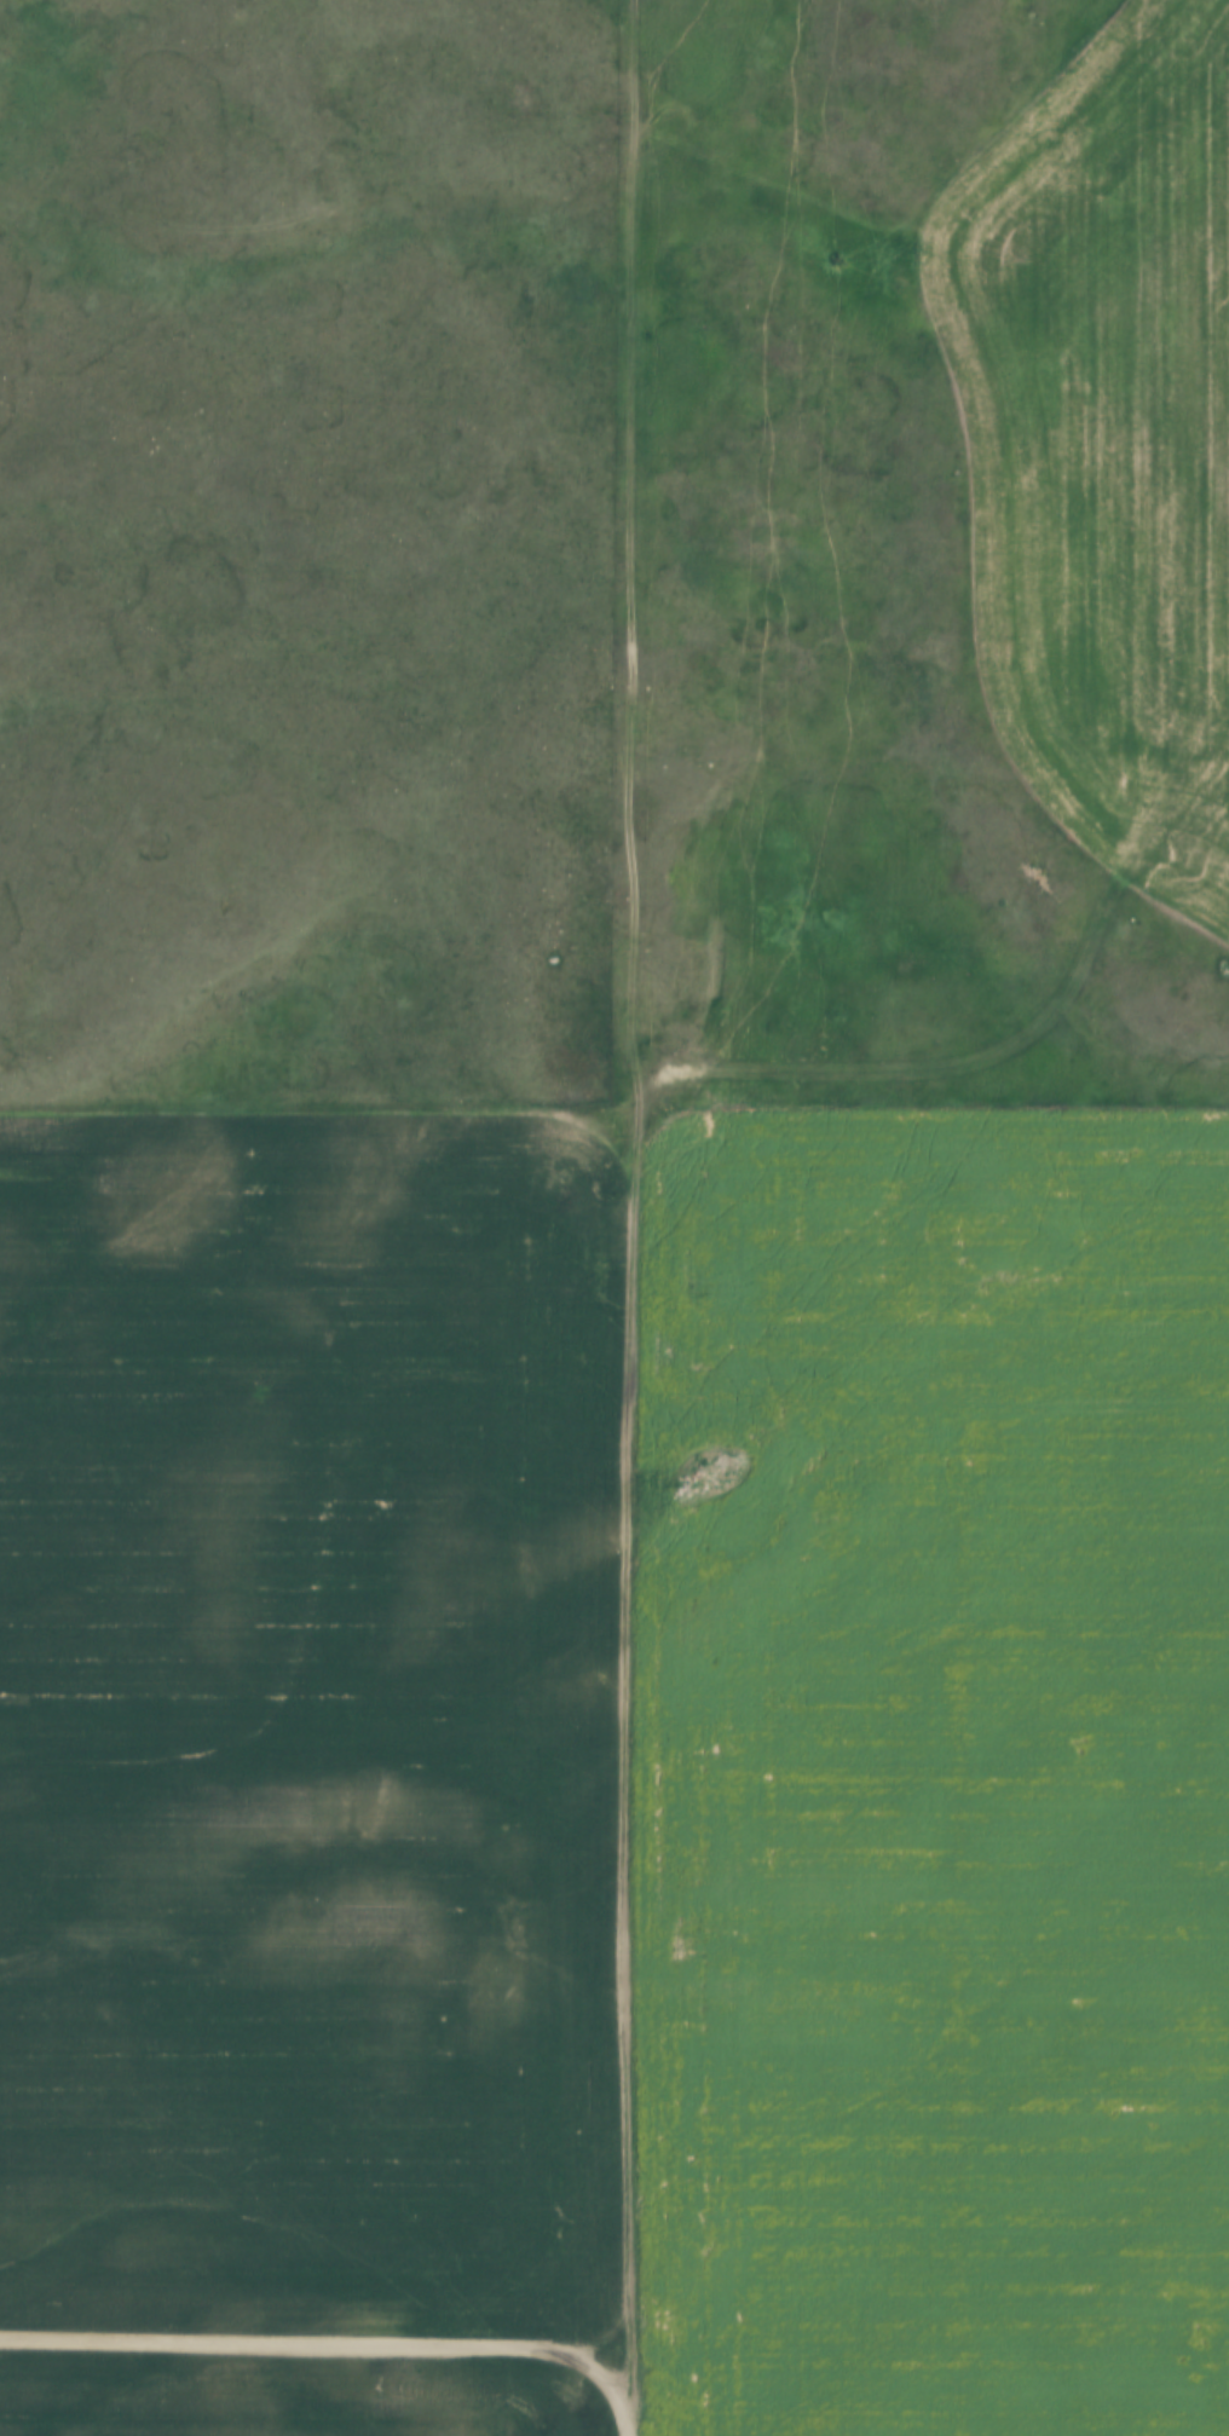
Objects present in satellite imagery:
road: (631, 1218)
road: (337, 2345)

